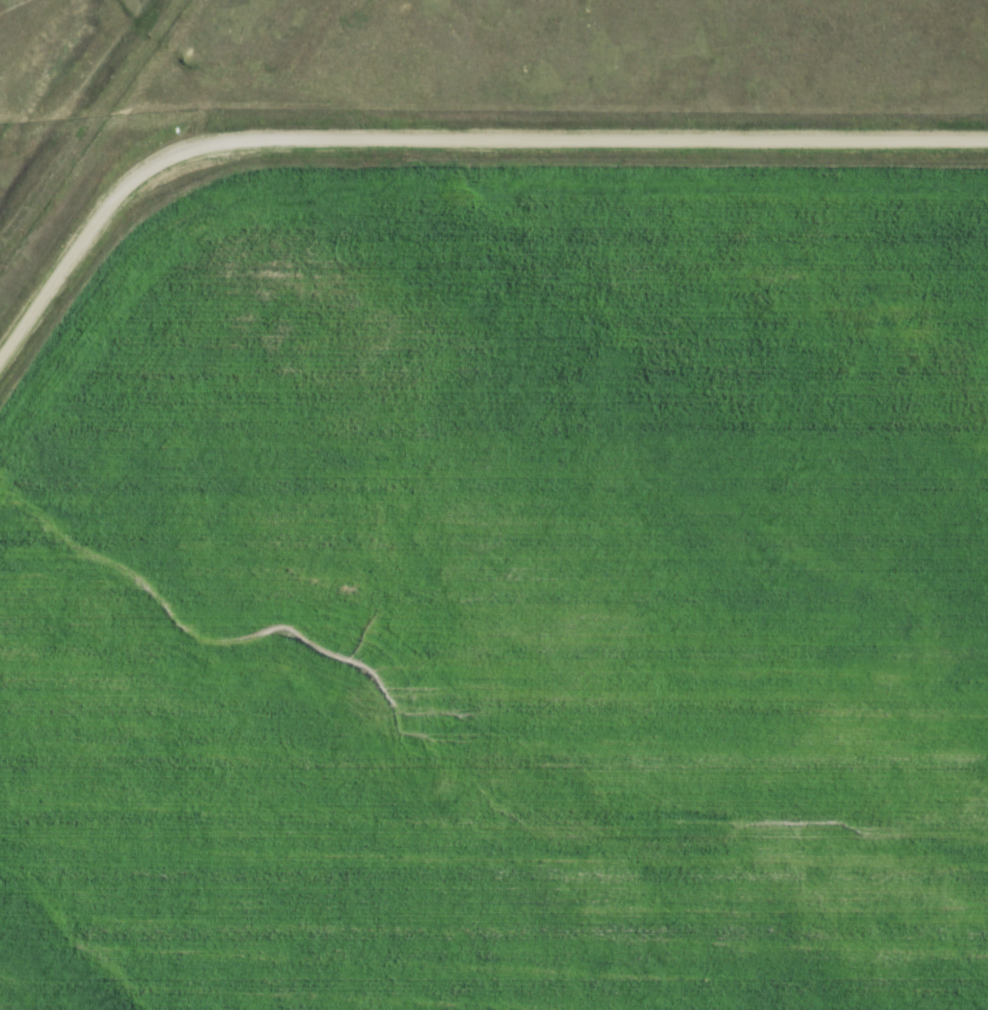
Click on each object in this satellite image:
railway: (89, 129)
road: (445, 141)

